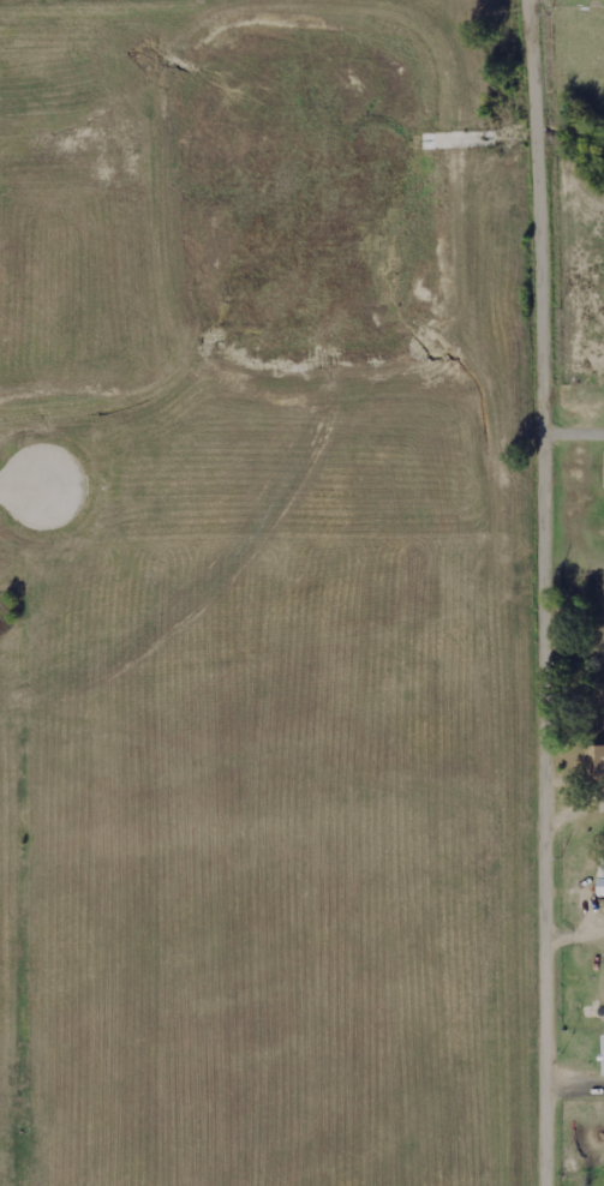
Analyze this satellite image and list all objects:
road: (24, 484)
road: (551, 592)
building: (596, 760)
building: (603, 1056)

